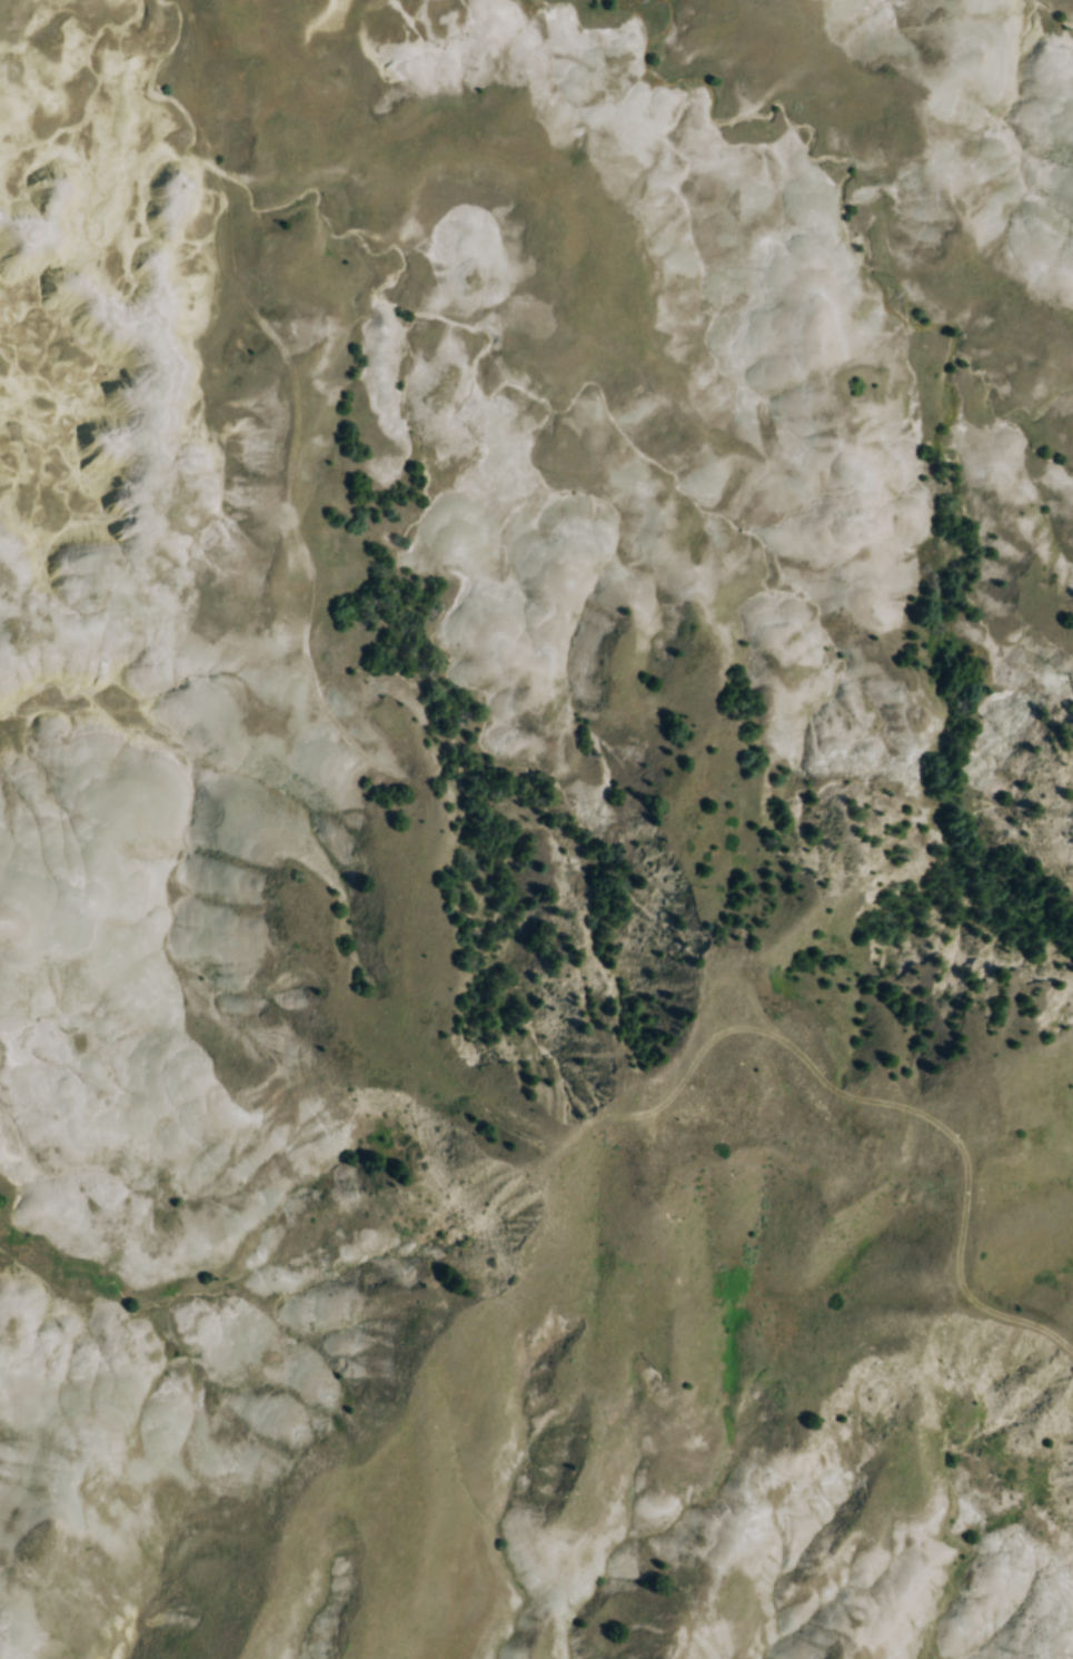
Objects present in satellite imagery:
road: (405, 956)

